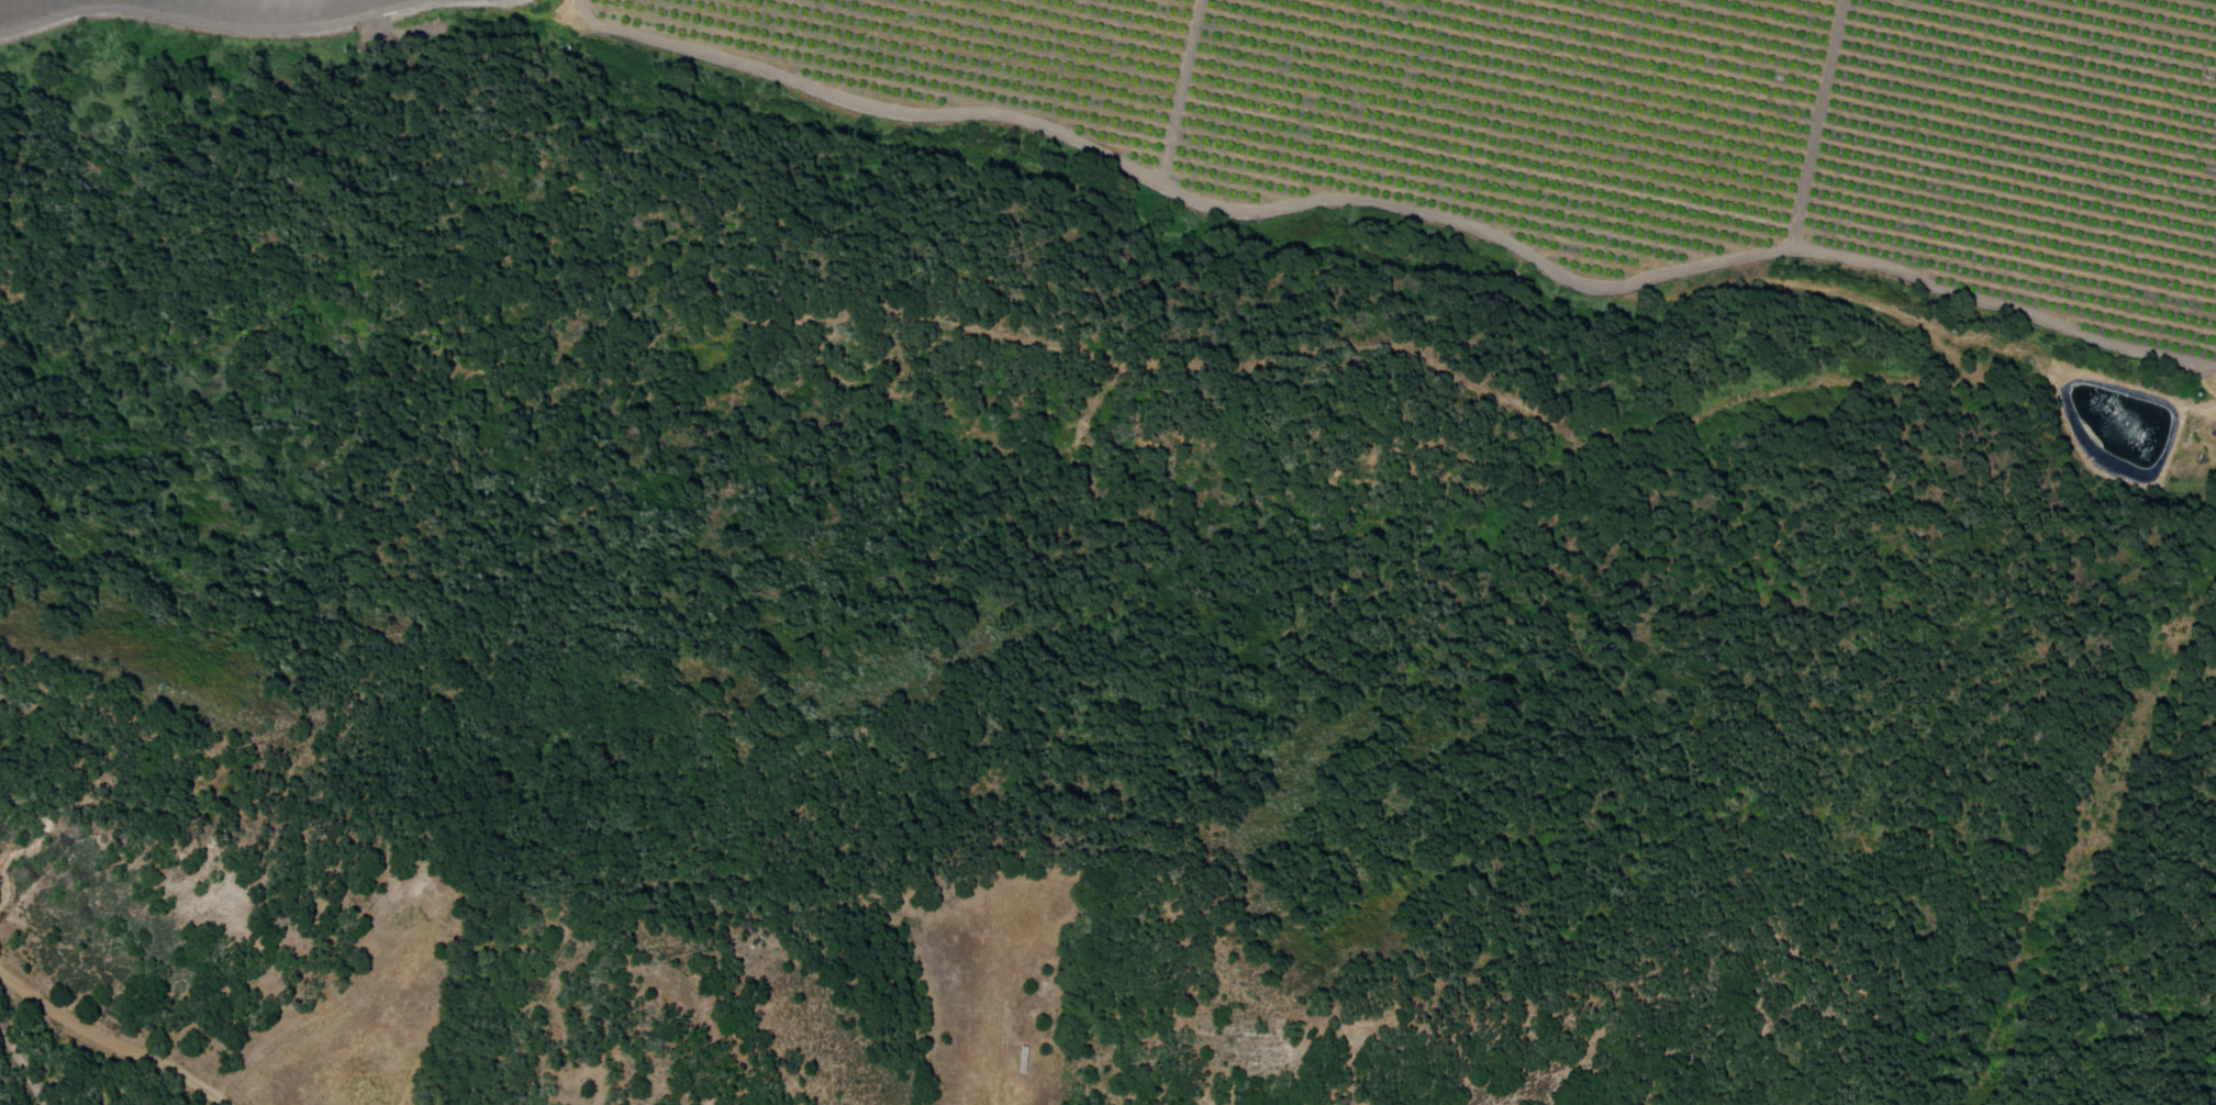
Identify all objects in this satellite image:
crop: (371, 0)
road: (1183, 91)
road: (110, 1042)
building: (1025, 1060)
road: (19, 1067)

